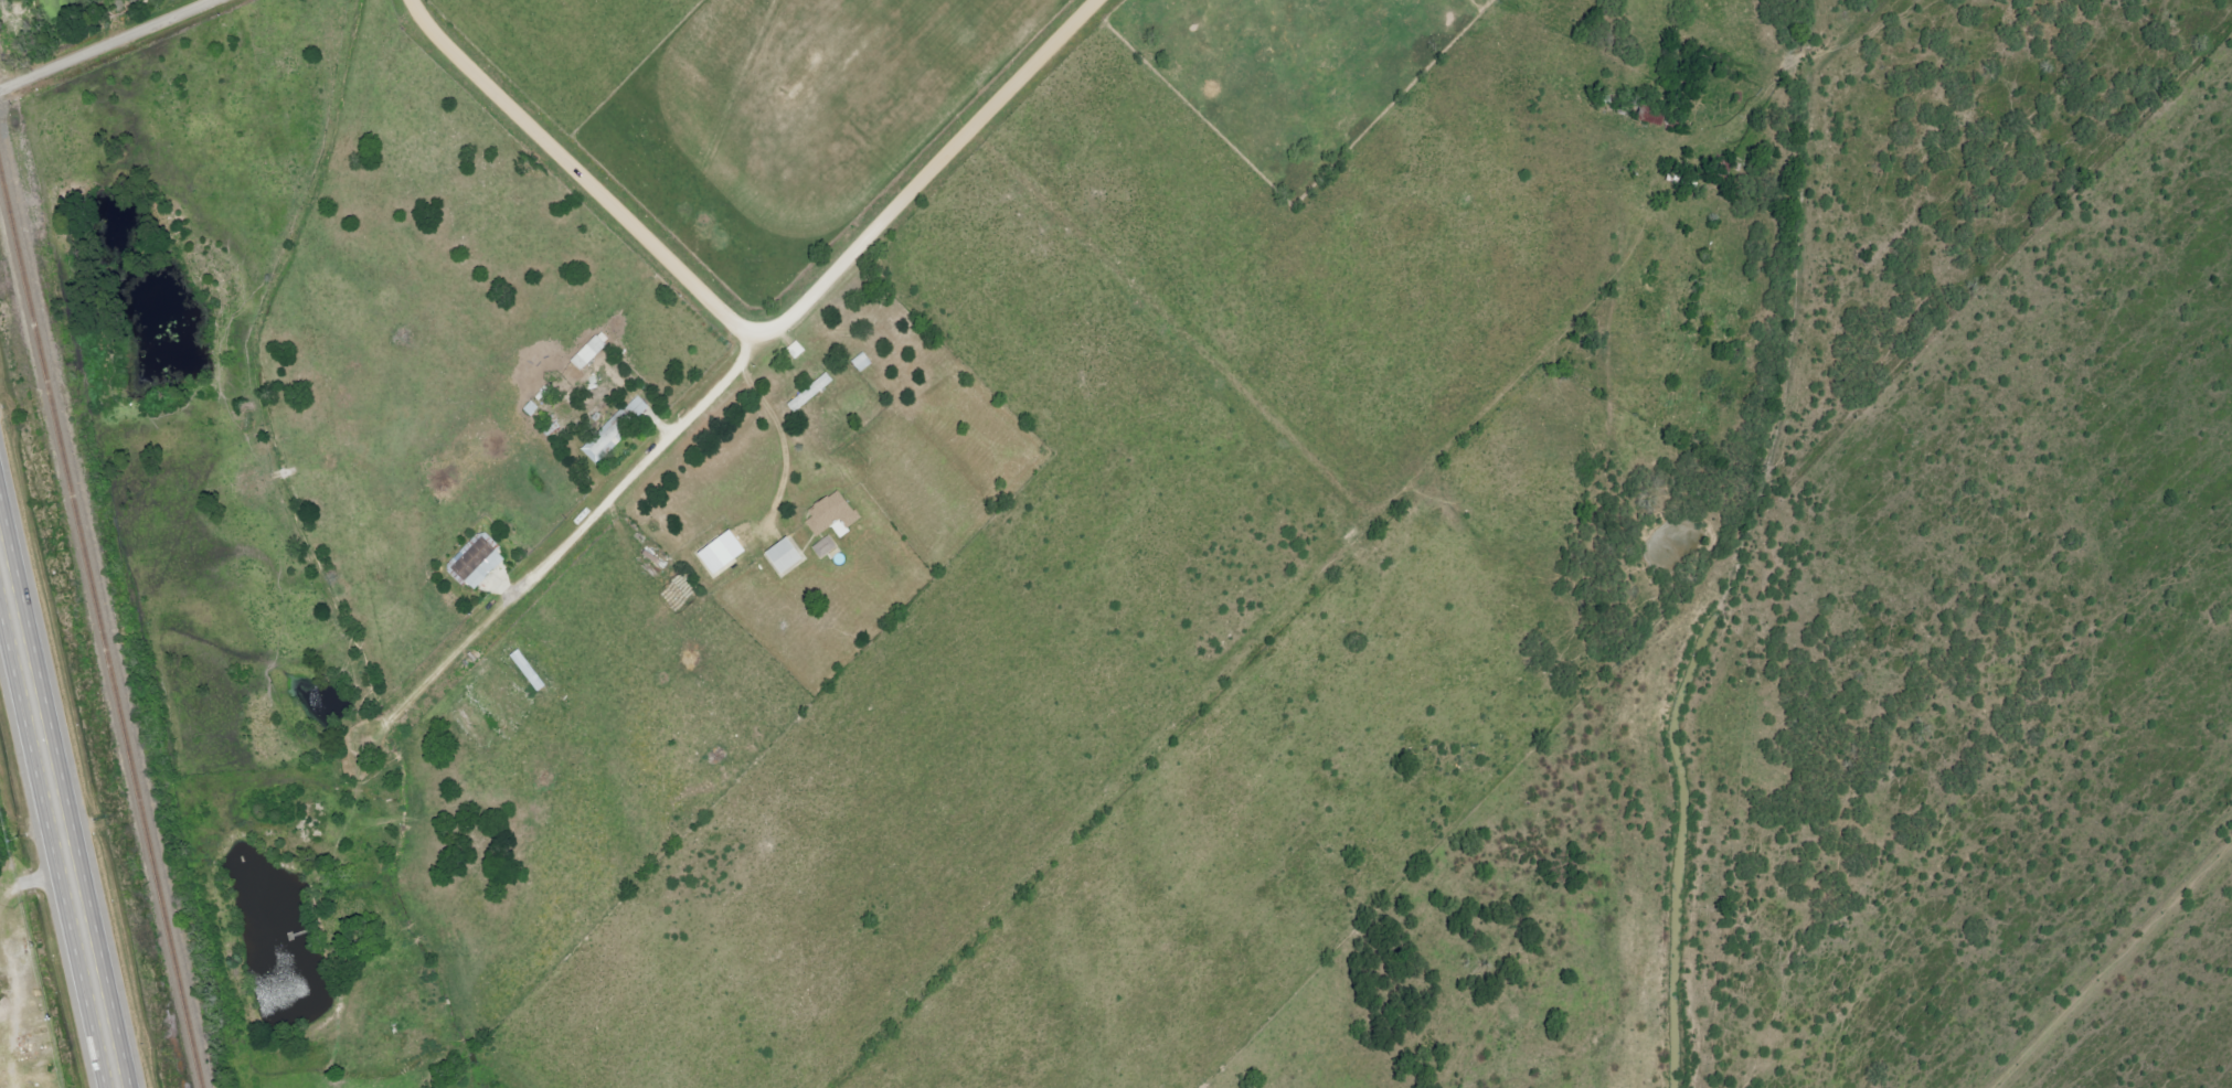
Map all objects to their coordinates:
road: (107, 45)
road: (756, 339)
building: (799, 350)
building: (591, 355)
building: (864, 362)
building: (814, 393)
building: (640, 408)
road: (778, 436)
building: (606, 445)
building: (835, 514)
road: (572, 533)
building: (828, 547)
building: (727, 553)
building: (790, 556)
building: (474, 566)
railway: (98, 641)
road: (54, 843)

